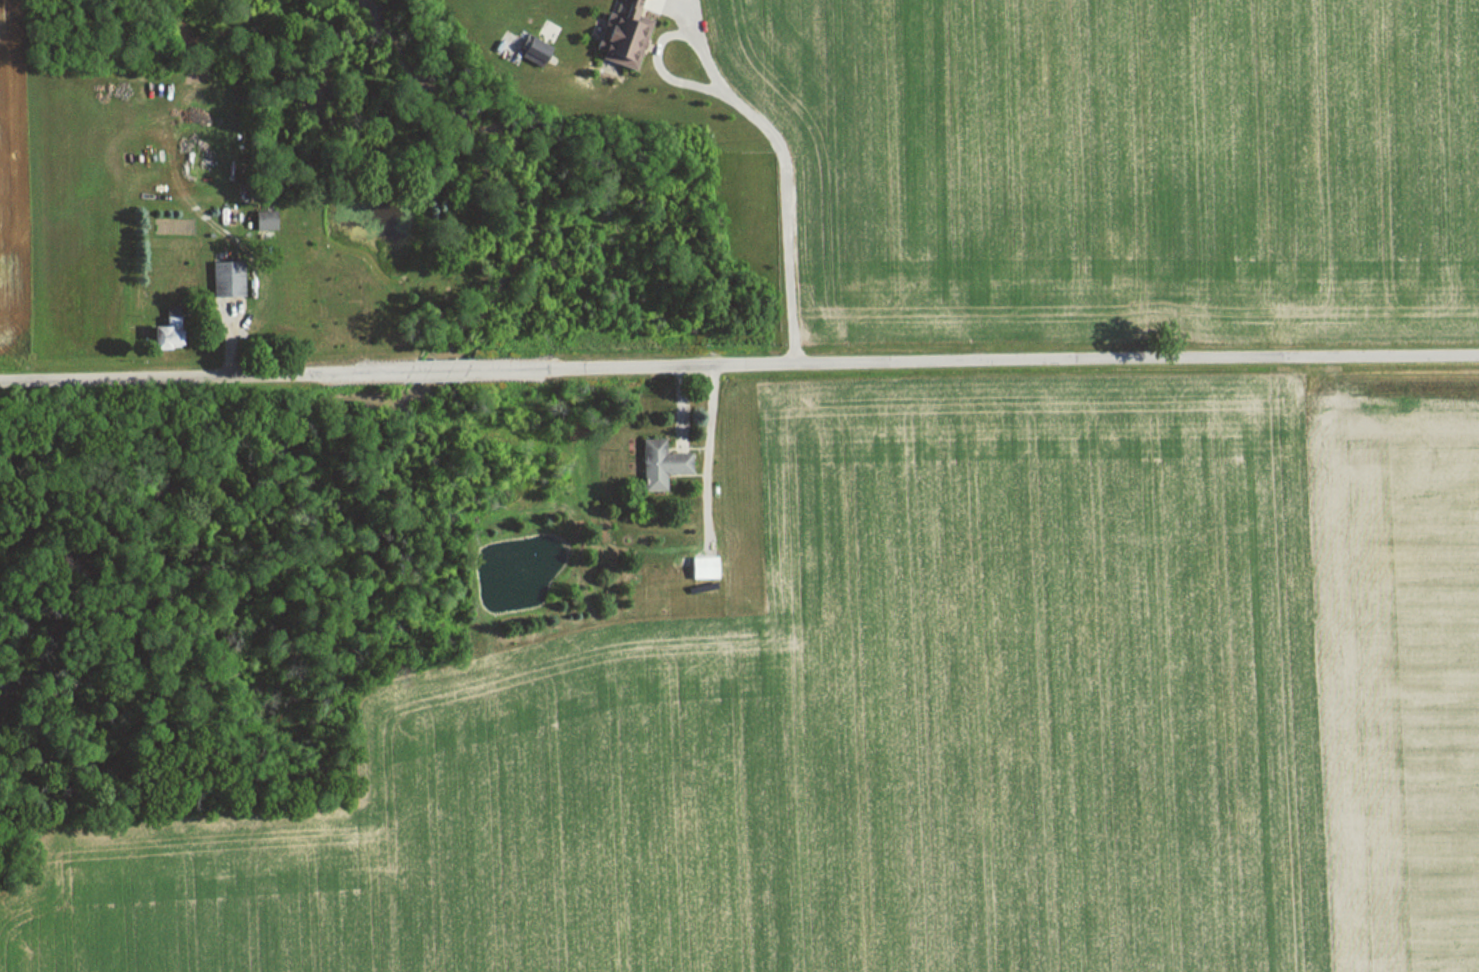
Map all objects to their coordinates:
building: (619, 35)
building: (529, 51)
road: (758, 126)
crop: (1121, 164)
crop: (6, 197)
building: (259, 220)
building: (223, 278)
road: (739, 369)
building: (656, 464)
building: (699, 567)
crop: (927, 732)

